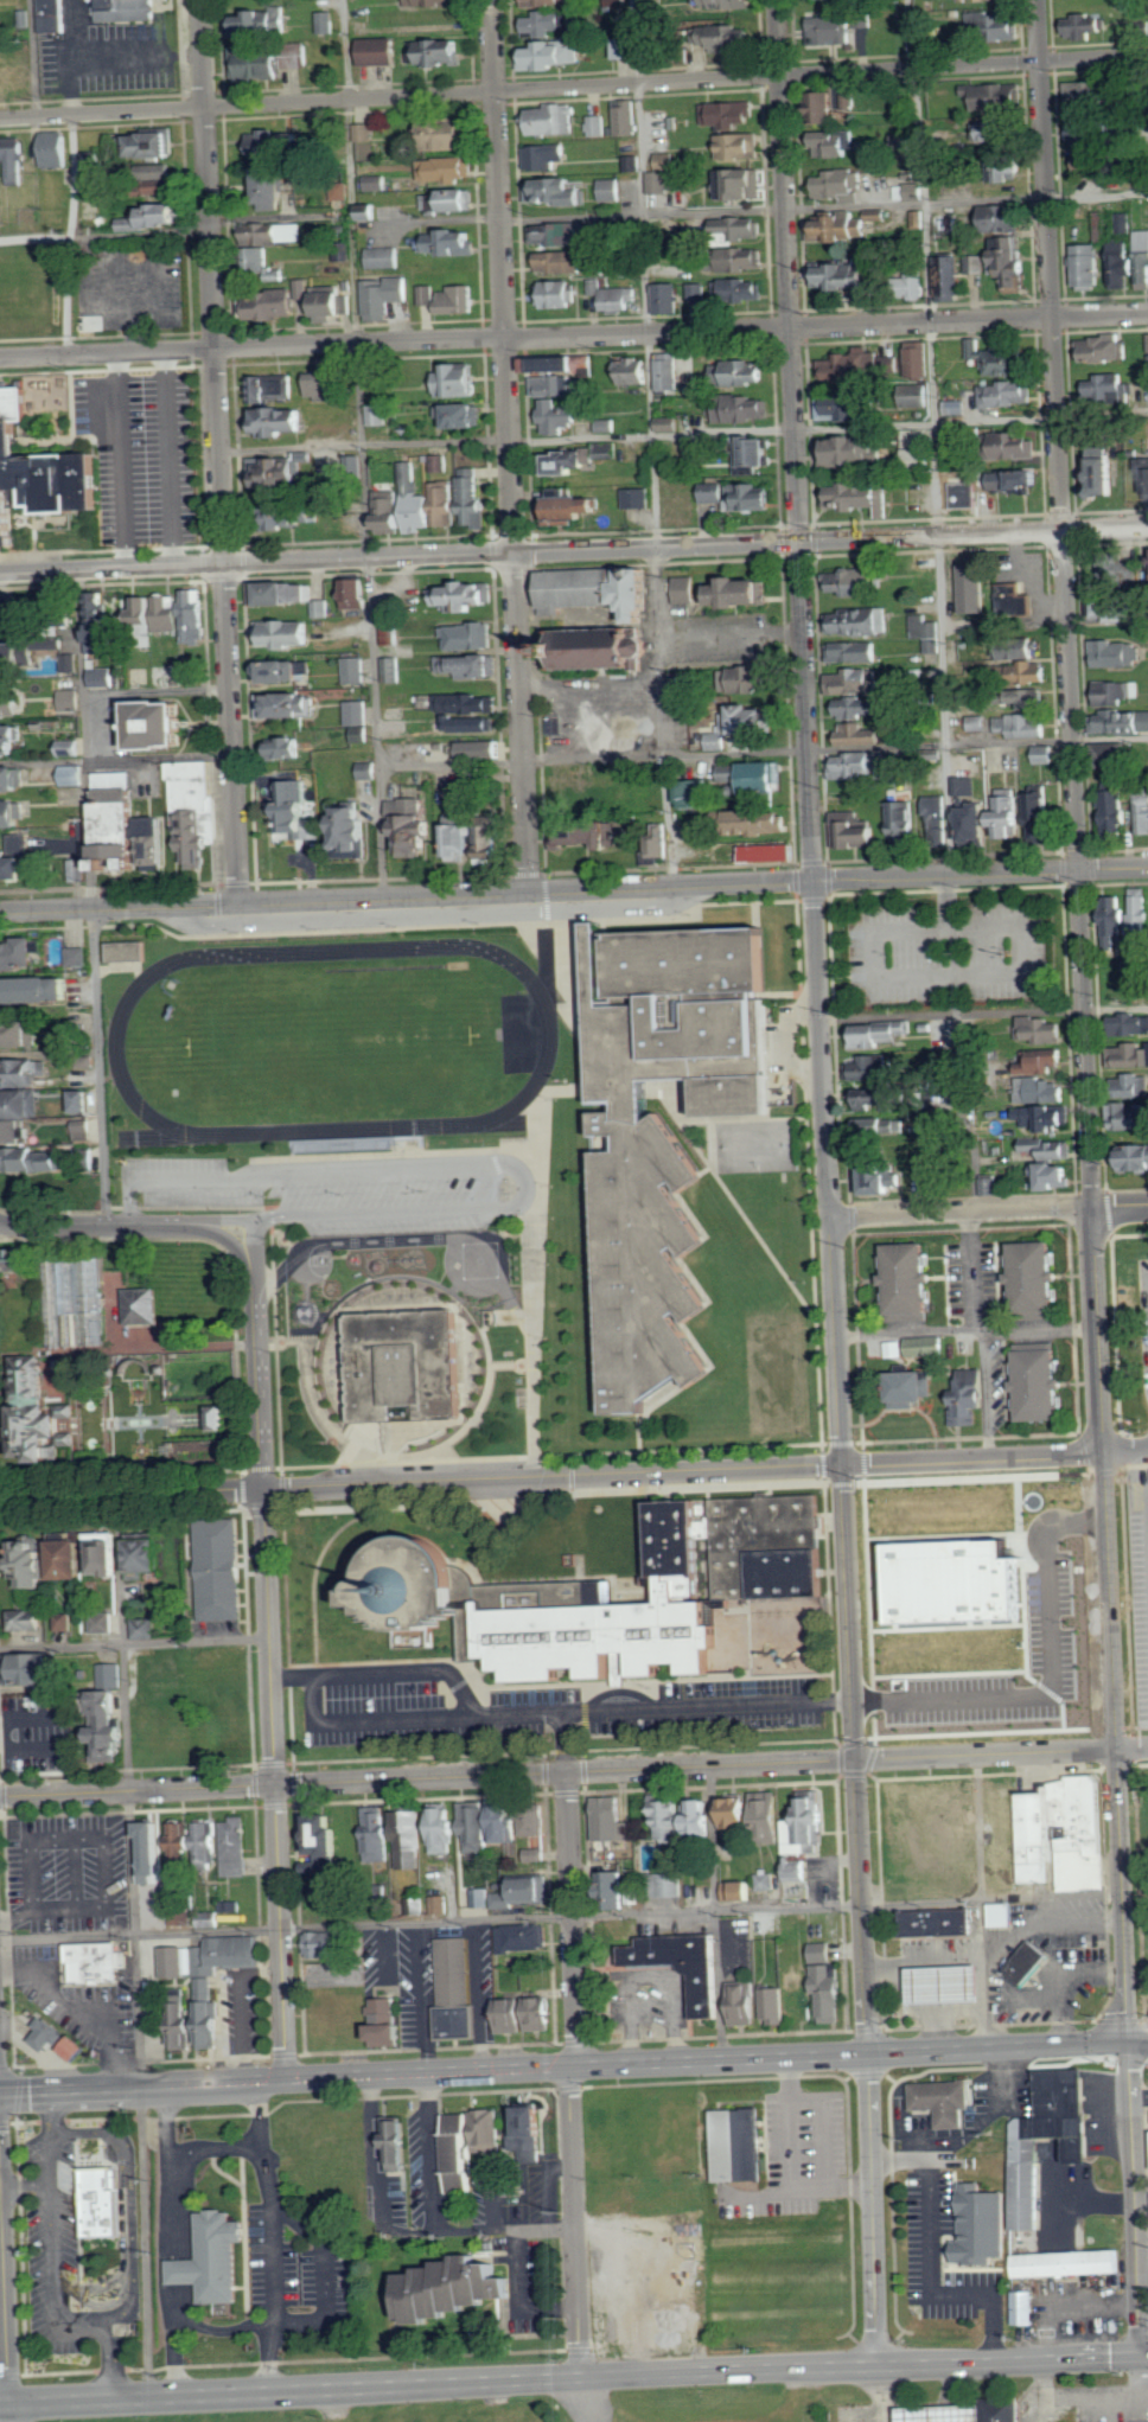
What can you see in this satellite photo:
building: (435, 2)
building: (544, 2)
building: (722, 4)
building: (655, 5)
building: (127, 9)
building: (53, 15)
building: (24, 20)
building: (326, 21)
building: (250, 23)
building: (549, 24)
building: (1088, 25)
building: (993, 26)
building: (865, 28)
building: (833, 30)
building: (736, 36)
building: (629, 47)
building: (381, 51)
building: (439, 51)
building: (549, 56)
road: (32, 58)
road: (1093, 58)
building: (270, 60)
road: (519, 89)
building: (1088, 91)
building: (1001, 96)
building: (850, 101)
building: (824, 107)
building: (731, 114)
building: (629, 117)
building: (553, 120)
building: (597, 126)
building: (996, 130)
building: (1086, 132)
building: (448, 134)
building: (270, 142)
building: (834, 143)
building: (155, 145)
building: (740, 146)
building: (56, 149)
building: (94, 156)
building: (546, 156)
building: (15, 159)
building: (667, 161)
building: (632, 162)
building: (1007, 167)
building: (447, 168)
building: (162, 179)
building: (377, 183)
building: (658, 183)
building: (744, 184)
building: (840, 184)
building: (275, 188)
building: (611, 190)
building: (342, 191)
building: (557, 191)
building: (911, 191)
building: (449, 200)
road: (824, 206)
building: (158, 217)
building: (1007, 218)
road: (281, 219)
road: (426, 219)
building: (1124, 223)
building: (842, 225)
building: (742, 228)
road: (71, 234)
building: (275, 234)
building: (561, 234)
road: (106, 235)
building: (452, 242)
building: (321, 253)
building: (385, 257)
building: (1143, 257)
building: (744, 258)
building: (259, 260)
building: (563, 262)
building: (1012, 262)
building: (976, 263)
building: (1089, 264)
road: (1050, 266)
building: (1125, 269)
road: (789, 270)
building: (846, 279)
building: (951, 279)
parking lot: (130, 285)
building: (917, 285)
building: (304, 289)
building: (697, 290)
building: (739, 290)
building: (560, 294)
building: (427, 295)
building: (617, 295)
building: (385, 296)
building: (669, 299)
building: (458, 300)
building: (330, 302)
building: (274, 305)
road: (574, 335)
building: (1104, 349)
building: (1003, 359)
building: (893, 362)
building: (920, 363)
building: (559, 364)
building: (854, 364)
building: (634, 371)
building: (670, 371)
building: (741, 372)
road: (167, 373)
building: (460, 382)
building: (320, 384)
building: (557, 385)
building: (270, 388)
building: (1106, 388)
building: (1008, 394)
building: (850, 404)
building: (961, 408)
building: (744, 409)
building: (378, 415)
building: (461, 415)
building: (559, 416)
building: (281, 421)
building: (670, 421)
building: (607, 424)
road: (683, 432)
road: (652, 443)
road: (511, 445)
building: (1015, 446)
road: (362, 448)
building: (859, 449)
road: (219, 452)
building: (754, 453)
building: (578, 458)
building: (918, 458)
road: (126, 459)
parking lot: (138, 459)
building: (1142, 464)
building: (352, 467)
building: (1108, 471)
building: (31, 473)
building: (278, 473)
building: (1018, 480)
road: (171, 481)
building: (962, 494)
building: (740, 496)
building: (865, 497)
building: (638, 498)
building: (473, 499)
building: (407, 505)
building: (446, 505)
building: (295, 507)
building: (578, 507)
building: (288, 517)
road: (1105, 529)
road: (931, 536)
road: (400, 557)
building: (1116, 570)
building: (860, 583)
building: (974, 587)
building: (605, 588)
building: (687, 589)
building: (742, 592)
building: (283, 594)
building: (359, 594)
building: (461, 596)
building: (1014, 600)
building: (321, 608)
building: (1121, 612)
building: (176, 614)
building: (860, 620)
building: (7, 621)
building: (104, 630)
building: (393, 633)
building: (288, 634)
building: (471, 637)
building: (927, 638)
building: (1014, 648)
building: (854, 652)
building: (1116, 653)
building: (15, 656)
building: (71, 663)
building: (470, 666)
building: (356, 670)
building: (394, 670)
building: (289, 672)
building: (1033, 672)
building: (104, 677)
building: (746, 679)
building: (856, 682)
building: (1118, 694)
building: (1033, 699)
building: (71, 701)
building: (468, 703)
building: (12, 705)
building: (288, 705)
building: (860, 708)
building: (358, 714)
building: (1124, 722)
building: (162, 723)
building: (744, 723)
building: (977, 723)
building: (467, 724)
building: (1022, 726)
road: (945, 731)
building: (861, 735)
building: (12, 741)
building: (289, 747)
building: (483, 750)
road: (764, 752)
building: (1045, 754)
building: (1117, 754)
road: (115, 756)
building: (857, 766)
building: (75, 775)
building: (757, 777)
building: (12, 779)
building: (965, 786)
building: (454, 791)
building: (697, 794)
building: (294, 807)
building: (194, 811)
building: (1118, 812)
building: (1023, 813)
building: (14, 814)
building: (937, 817)
building: (904, 822)
building: (765, 823)
building: (413, 825)
building: (981, 825)
building: (130, 827)
building: (856, 831)
building: (353, 833)
building: (585, 833)
building: (458, 836)
building: (490, 839)
building: (659, 841)
building: (771, 854)
building: (17, 858)
road: (1077, 869)
road: (812, 881)
road: (573, 889)
road: (90, 899)
road: (442, 912)
building: (1128, 922)
parking lot: (948, 948)
building: (128, 952)
building: (21, 956)
building: (78, 958)
building: (1140, 977)
building: (36, 991)
road: (983, 1012)
building: (1133, 1024)
building: (1040, 1030)
building: (19, 1036)
park: (332, 1036)
building: (875, 1036)
track: (549, 1041)
road: (783, 1041)
building: (1133, 1055)
building: (1045, 1061)
building: (870, 1067)
building: (24, 1073)
building: (1135, 1086)
building: (1041, 1091)
building: (85, 1101)
building: (19, 1116)
building: (1131, 1117)
building: (1045, 1118)
building: (881, 1125)
building: (84, 1130)
building: (659, 1135)
park: (755, 1144)
building: (1135, 1158)
building: (33, 1159)
road: (470, 1163)
building: (1054, 1176)
building: (878, 1180)
parking lot: (342, 1189)
road: (989, 1212)
road: (123, 1227)
road: (406, 1240)
building: (15, 1258)
road: (529, 1263)
building: (1032, 1280)
building: (906, 1283)
building: (139, 1305)
parking lot: (1144, 1322)
road: (965, 1329)
road: (1096, 1331)
road: (1116, 1334)
road: (836, 1341)
building: (894, 1348)
building: (400, 1363)
road: (257, 1367)
building: (1037, 1381)
building: (913, 1386)
building: (971, 1394)
road: (535, 1400)
building: (34, 1413)
building: (223, 1417)
building: (215, 1418)
road: (1124, 1453)
road: (971, 1459)
road: (1135, 1464)
road: (420, 1481)
building: (149, 1553)
building: (108, 1555)
building: (71, 1558)
building: (33, 1564)
building: (222, 1568)
building: (957, 1580)
building: (415, 1595)
building: (650, 1595)
building: (32, 1618)
building: (66, 1621)
building: (103, 1622)
building: (145, 1628)
road: (134, 1642)
building: (171, 1662)
building: (147, 1664)
building: (34, 1669)
parking lot: (1139, 1669)
road: (1053, 1687)
parking lot: (536, 1707)
road: (549, 1714)
building: (111, 1715)
road: (370, 1718)
road: (567, 1744)
road: (1131, 1744)
road: (1131, 1747)
road: (1116, 1749)
road: (854, 1759)
road: (557, 1772)
road: (274, 1783)
building: (753, 1813)
building: (613, 1819)
building: (684, 1819)
building: (535, 1820)
building: (473, 1825)
building: (808, 1827)
building: (1061, 1832)
building: (409, 1839)
building: (209, 1840)
building: (324, 1840)
building: (236, 1846)
building: (154, 1849)
building: (181, 1849)
building: (766, 1880)
building: (617, 1884)
building: (672, 1884)
building: (901, 1889)
building: (739, 1890)
building: (523, 1891)
building: (480, 1897)
road: (978, 1900)
road: (560, 1912)
road: (714, 1913)
building: (181, 1916)
building: (1002, 1916)
road: (573, 1918)
building: (522, 1937)
building: (324, 1943)
road: (134, 1945)
building: (822, 1950)
building: (938, 1956)
gas station: (938, 1956)
building: (93, 1963)
building: (1022, 1963)
building: (680, 1964)
building: (204, 1981)
building: (457, 1989)
building: (831, 1990)
parking lot: (77, 2000)
building: (745, 2004)
building: (776, 2005)
building: (387, 2009)
building: (527, 2014)
building: (393, 2033)
building: (49, 2034)
traffic signals: (1128, 2043)
road: (1137, 2043)
building: (76, 2049)
road: (997, 2049)
road: (721, 2059)
road: (287, 2078)
road: (1006, 2078)
road: (1103, 2078)
road: (1139, 2097)
building: (939, 2101)
building: (537, 2120)
road: (823, 2128)
building: (1045, 2133)
building: (476, 2137)
building: (390, 2143)
road: (371, 2145)
building: (734, 2145)
road: (213, 2147)
parking lot: (798, 2159)
road: (793, 2160)
road: (0, 2191)
road: (760, 2193)
road: (130, 2196)
building: (100, 2199)
road: (1135, 2199)
road: (1091, 2203)
road: (1142, 2203)
road: (872, 2210)
road: (575, 2220)
road: (433, 2223)
building: (977, 2224)
road: (274, 2236)
road: (161, 2241)
parking lot: (925, 2252)
building: (210, 2256)
road: (931, 2262)
building: (1064, 2263)
road: (180, 2266)
road: (56, 2271)
road: (323, 2275)
building: (445, 2286)
road: (5, 2294)
road: (517, 2298)
road: (1083, 2302)
road: (2, 2305)
building: (1021, 2306)
road: (224, 2328)
traffic signals: (1143, 2357)
road: (865, 2366)
road: (1144, 2376)
road: (880, 2378)
road: (291, 2391)
road: (1077, 2397)
road: (498, 2401)
road: (334, 2403)
building: (1006, 2410)
building: (921, 2415)
road: (343, 2420)

